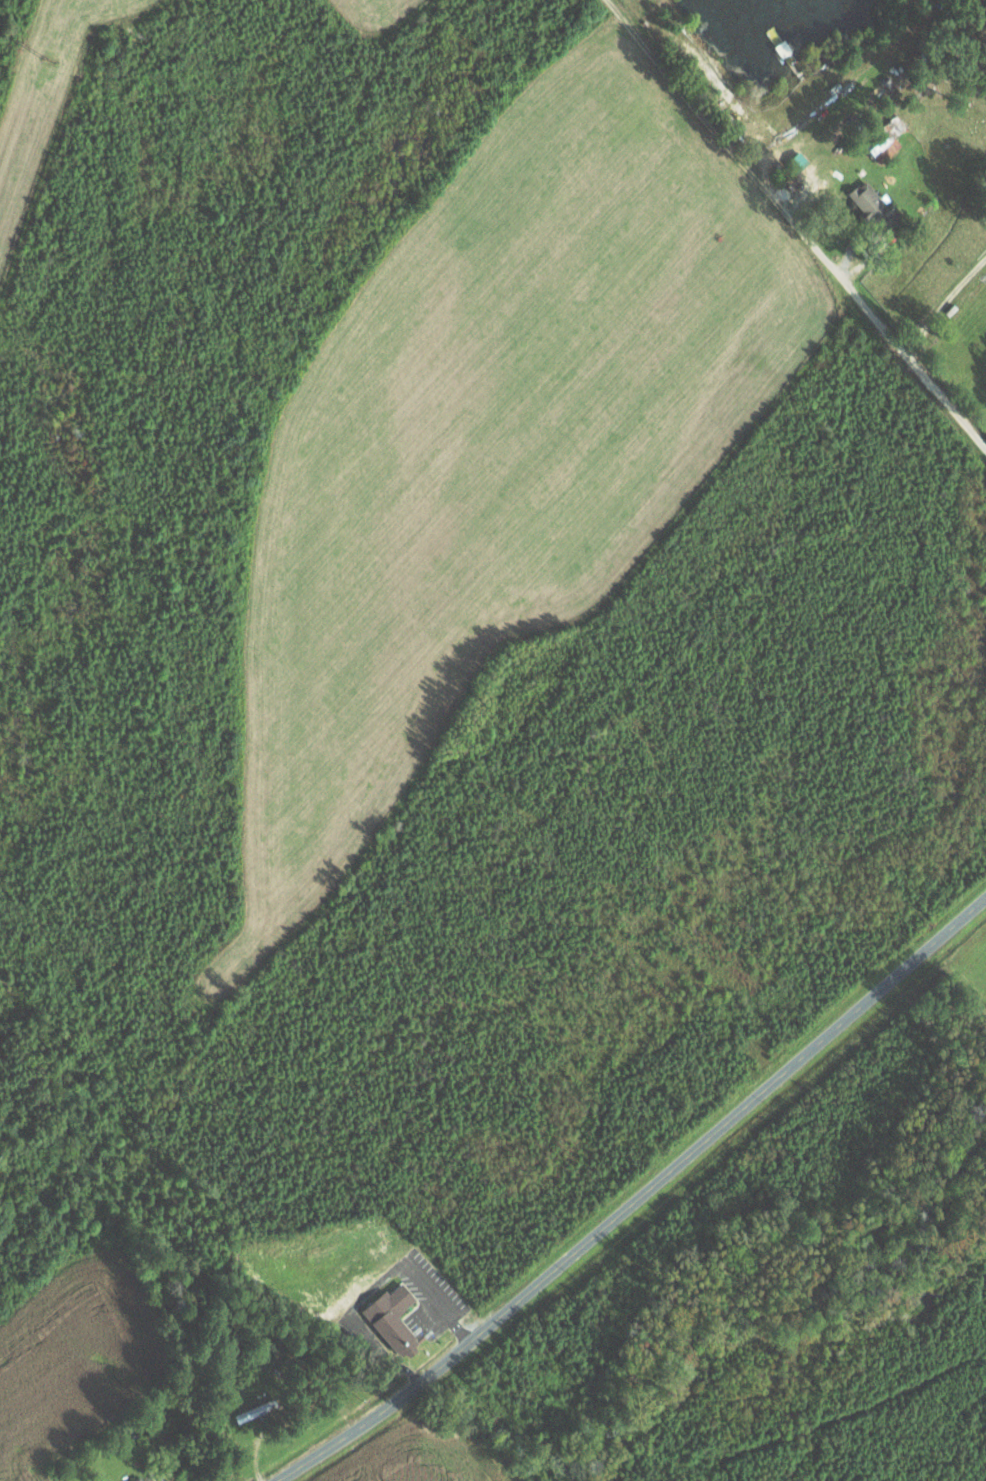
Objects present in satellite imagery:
power tower: (49, 60)
building: (887, 138)
building: (800, 159)
building: (873, 205)
road: (874, 316)
road: (636, 1198)
building: (393, 1317)
building: (254, 1411)
building: (139, 1479)

